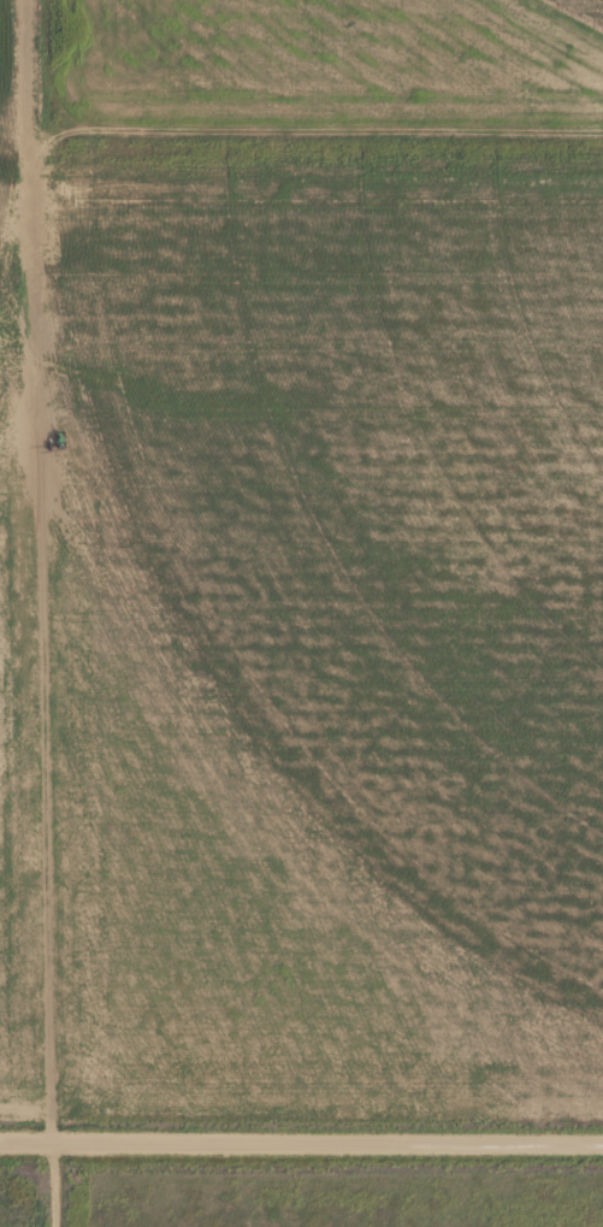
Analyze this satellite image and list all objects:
road: (42, 613)
road: (301, 1140)

